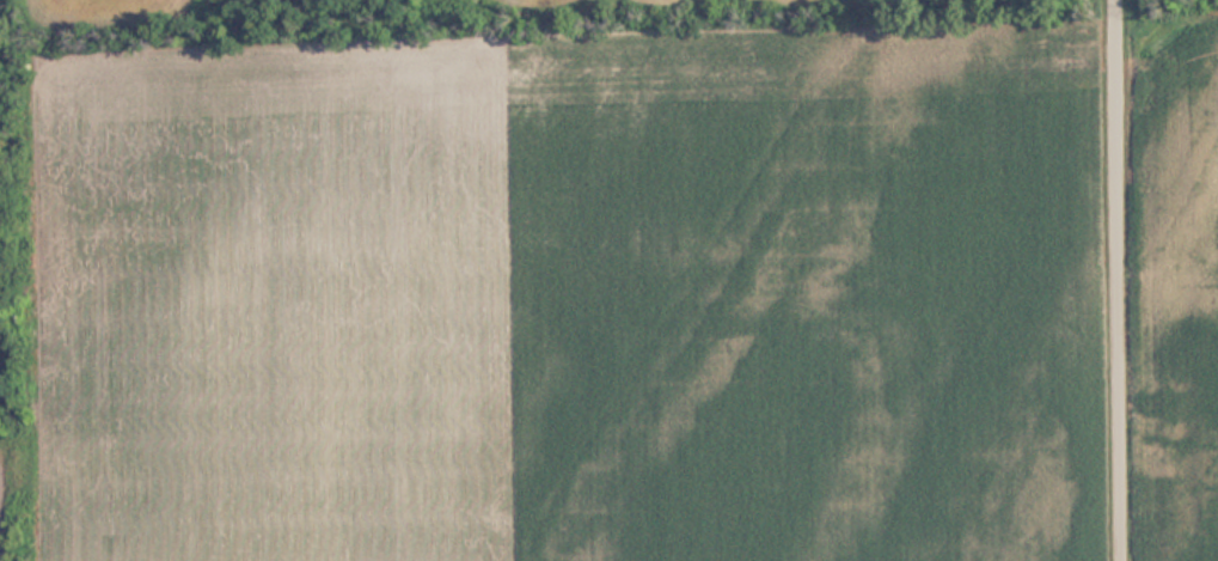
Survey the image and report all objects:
road: (1121, 280)

